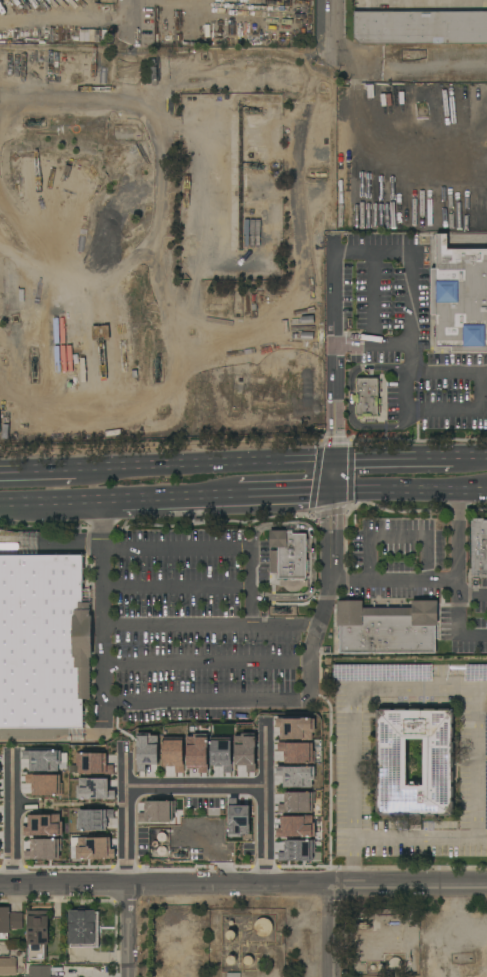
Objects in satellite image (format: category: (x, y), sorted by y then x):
road: (428, 0)
road: (131, 20)
road: (335, 27)
building: (420, 27)
road: (412, 58)
petroleum well: (251, 111)
petroleum well: (35, 124)
road: (389, 143)
petroleum well: (254, 165)
road: (353, 255)
road: (373, 281)
building: (460, 297)
road: (412, 315)
petroleum well: (28, 316)
road: (373, 348)
petroleum well: (35, 363)
petroleum well: (157, 371)
road: (333, 373)
road: (450, 375)
road: (351, 397)
building: (366, 398)
road: (407, 399)
road: (461, 408)
road: (471, 462)
road: (394, 463)
road: (213, 469)
road: (46, 476)
road: (409, 490)
road: (287, 493)
road: (170, 498)
road: (50, 502)
road: (396, 538)
building: (479, 546)
road: (214, 550)
building: (288, 554)
road: (311, 556)
parking lot: (399, 557)
road: (440, 581)
road: (175, 588)
road: (472, 598)
parking lot: (466, 620)
road: (458, 622)
parking lot: (199, 626)
road: (209, 627)
building: (387, 628)
building: (43, 641)
road: (205, 664)
road: (352, 692)
road: (208, 704)
building: (296, 728)
road: (26, 735)
building: (146, 751)
building: (245, 751)
building: (296, 752)
building: (197, 753)
building: (174, 754)
building: (222, 754)
road: (264, 754)
building: (43, 760)
road: (475, 760)
building: (438, 762)
road: (125, 765)
building: (296, 776)
road: (11, 778)
building: (44, 784)
road: (194, 786)
building: (94, 789)
building: (296, 803)
building: (156, 812)
building: (93, 819)
building: (237, 819)
building: (43, 825)
building: (295, 826)
road: (11, 832)
road: (264, 834)
road: (419, 834)
road: (125, 835)
building: (94, 848)
building: (42, 849)
building: (297, 851)
petroleum well: (179, 854)
road: (243, 883)
building: (9, 921)
petroleum well: (362, 926)
building: (264, 927)
storage tank: (264, 927)
building: (82, 928)
road: (125, 930)
road: (324, 930)
building: (38, 934)
petroleum well: (407, 958)
building: (8, 965)
building: (395, 966)
storage tank: (395, 966)
building: (38, 971)

